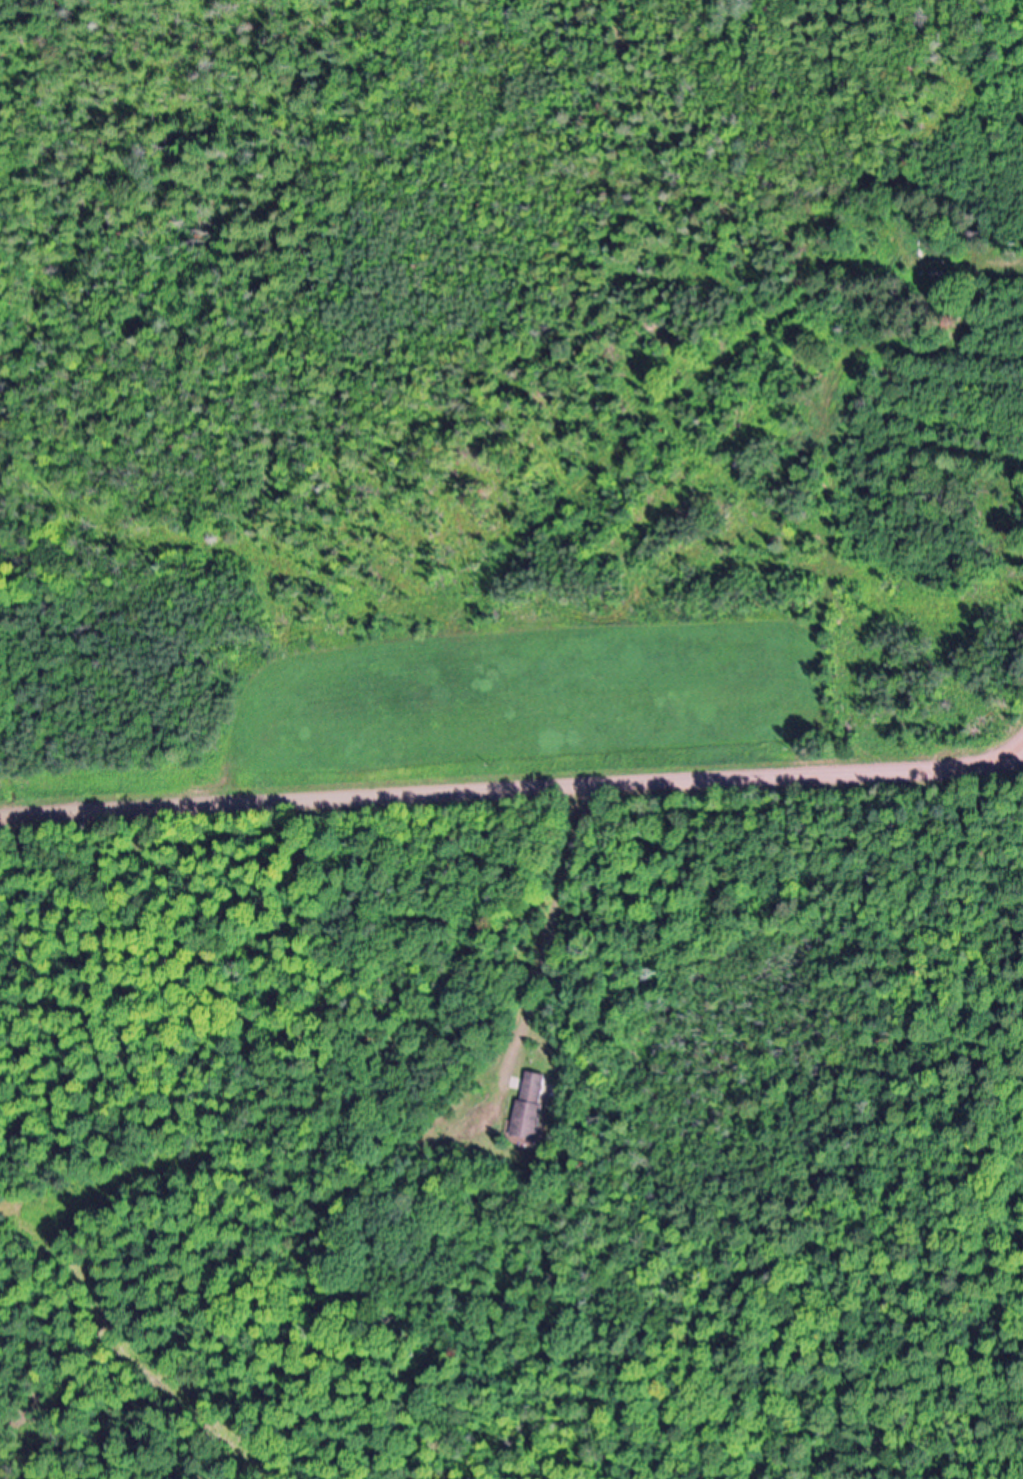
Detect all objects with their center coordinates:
road: (515, 768)
building: (531, 1108)

